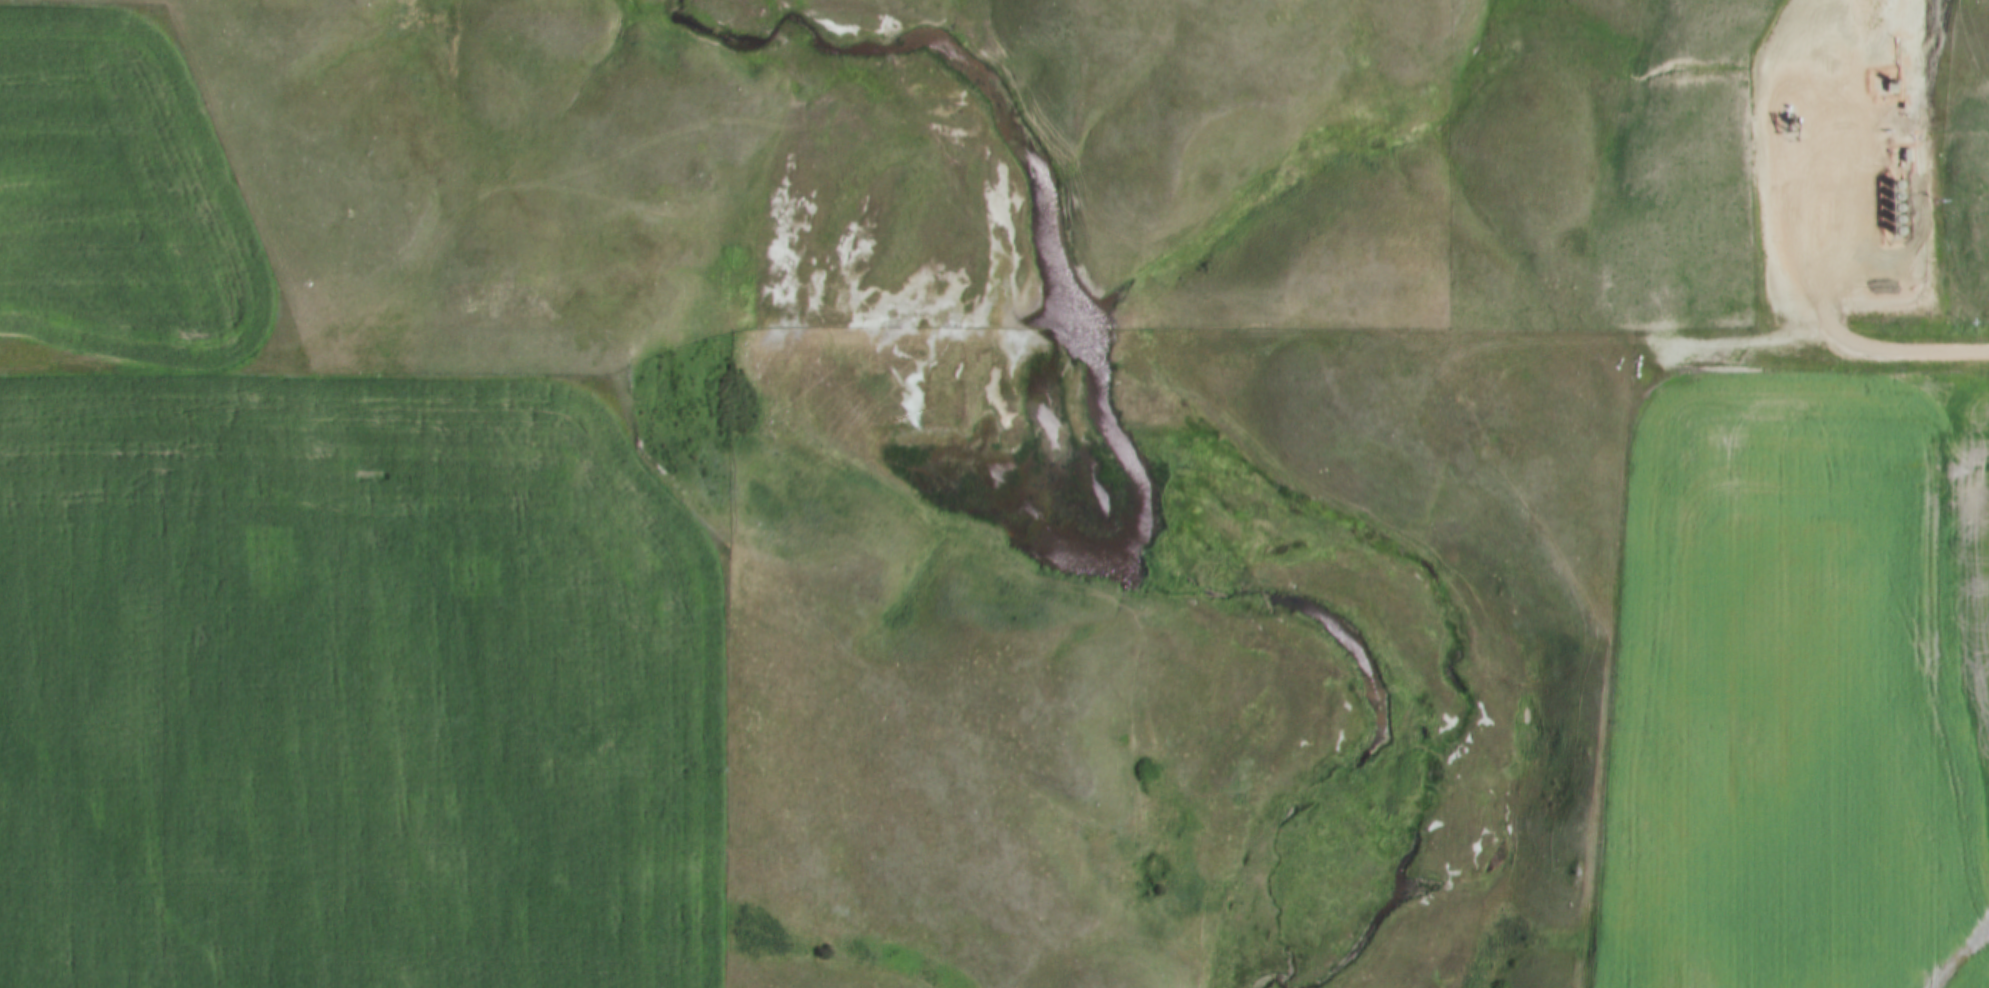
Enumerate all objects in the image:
building: (1888, 173)
storage tank: (1888, 173)
building: (1889, 186)
storage tank: (1889, 186)
building: (1889, 197)
storage tank: (1889, 197)
building: (1889, 208)
storage tank: (1889, 208)
building: (1889, 219)
storage tank: (1889, 219)
road: (1918, 350)

